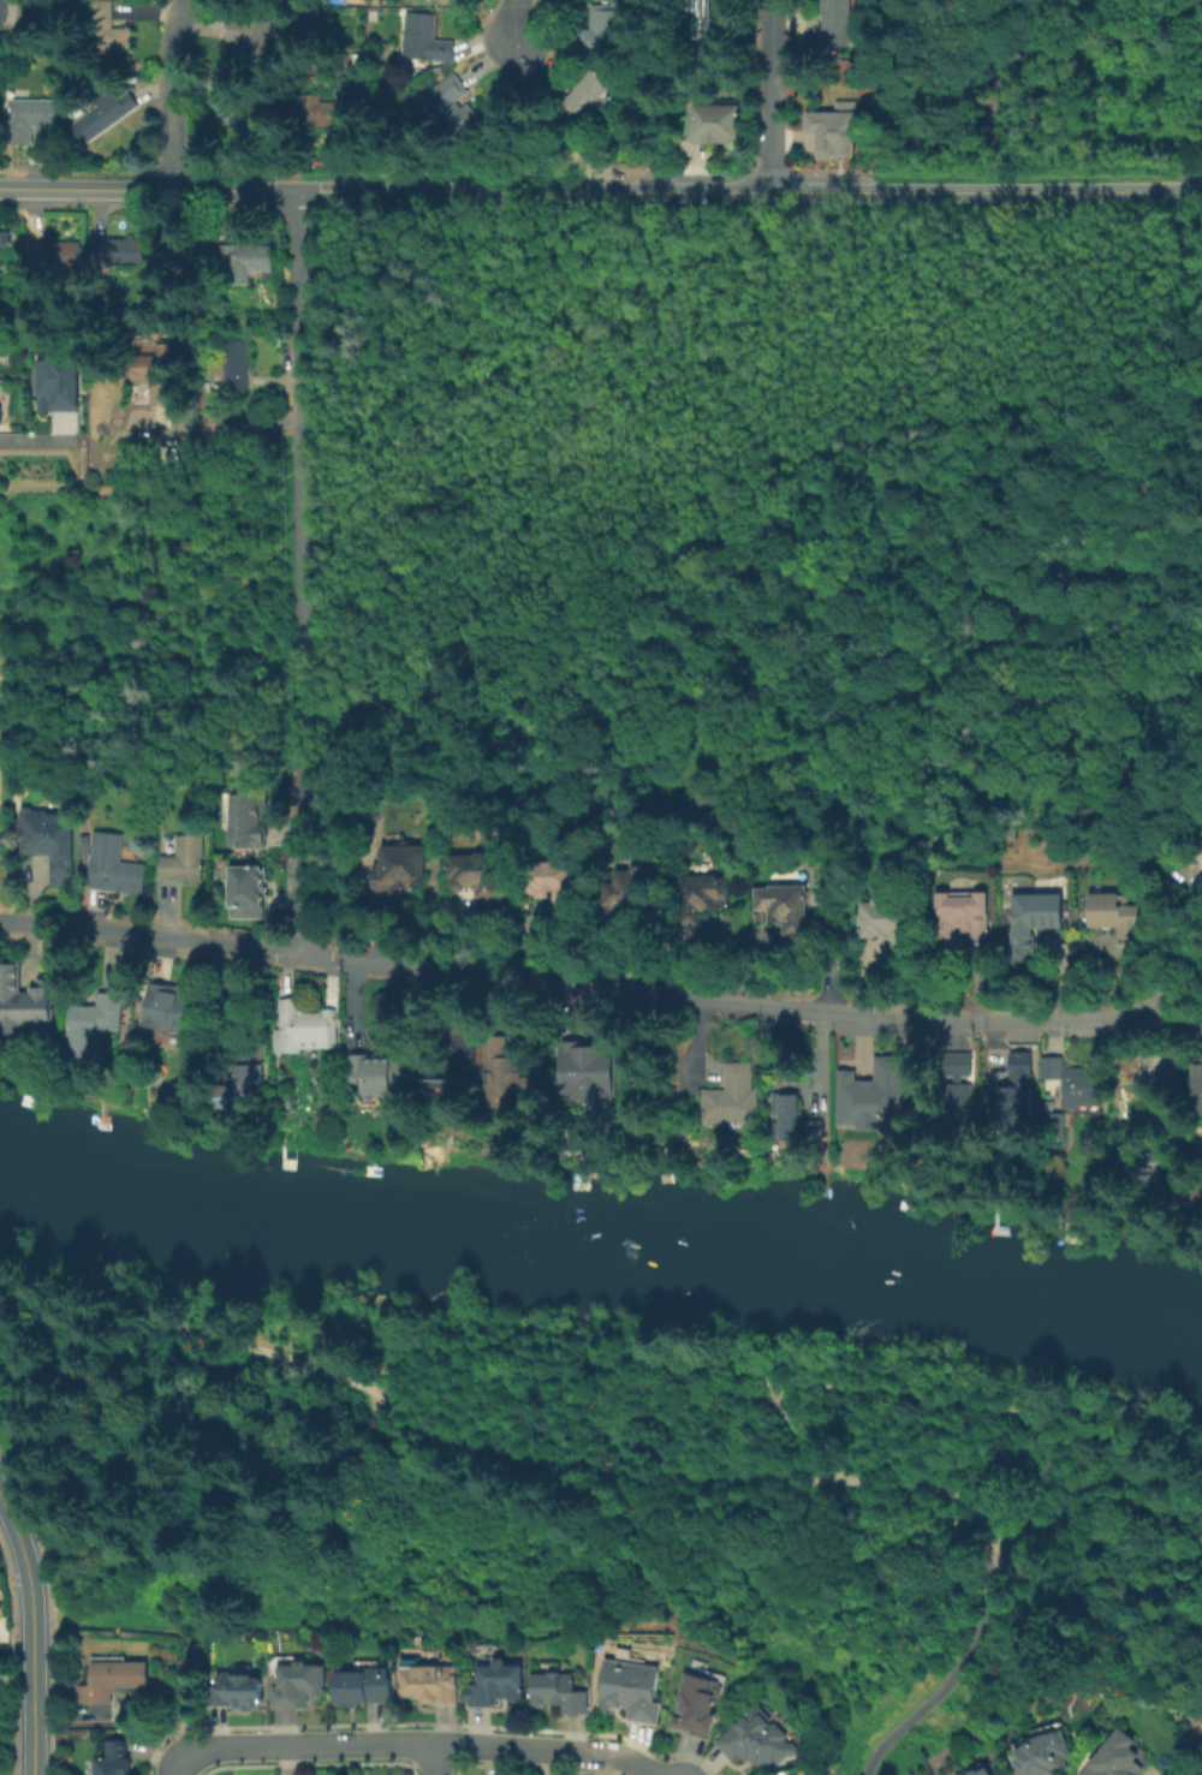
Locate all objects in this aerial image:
building: (438, 1)
building: (2, 13)
road: (516, 20)
building: (706, 20)
building: (834, 20)
building: (608, 30)
building: (107, 32)
building: (427, 42)
building: (252, 47)
road: (168, 95)
road: (770, 97)
building: (589, 99)
building: (451, 109)
building: (105, 114)
building: (237, 115)
building: (326, 115)
building: (34, 121)
building: (715, 126)
building: (829, 130)
road: (11, 191)
road: (160, 192)
road: (1185, 193)
road: (307, 195)
road: (743, 195)
building: (2, 237)
building: (118, 255)
building: (54, 257)
building: (245, 264)
building: (4, 300)
building: (232, 371)
building: (154, 375)
building: (61, 385)
building: (1, 404)
road: (34, 441)
road: (299, 574)
road: (1180, 767)
park: (2, 768)
building: (244, 820)
building: (52, 844)
building: (1197, 854)
building: (180, 859)
building: (114, 869)
building: (395, 870)
building: (477, 883)
building: (549, 887)
building: (246, 894)
building: (626, 894)
building: (698, 905)
building: (784, 913)
road: (1161, 913)
building: (957, 922)
building: (1117, 923)
building: (1033, 925)
building: (886, 927)
road: (581, 985)
building: (24, 1006)
building: (167, 1008)
road: (1183, 1021)
building: (94, 1024)
building: (309, 1031)
building: (502, 1060)
building: (454, 1071)
building: (377, 1073)
building: (591, 1076)
building: (1076, 1083)
building: (238, 1086)
building: (1195, 1089)
building: (1010, 1091)
building: (732, 1096)
building: (869, 1097)
building: (952, 1103)
building: (801, 1120)
building: (1054, 1127)
building: (1148, 1171)
river: (602, 1237)
road: (373, 1342)
road: (566, 1347)
road: (881, 1393)
road: (410, 1425)
road: (982, 1469)
road: (945, 1491)
park: (611, 1495)
road: (1022, 1527)
road: (29, 1633)
road: (942, 1681)
building: (365, 1684)
building: (432, 1685)
building: (109, 1686)
building: (299, 1686)
building: (494, 1687)
building: (631, 1687)
building: (559, 1691)
building: (233, 1693)
building: (694, 1697)
building: (761, 1737)
road: (386, 1743)
building: (1036, 1752)
building: (1118, 1756)
building: (114, 1758)
road: (434, 1759)
road: (643, 1759)
building: (976, 1765)

